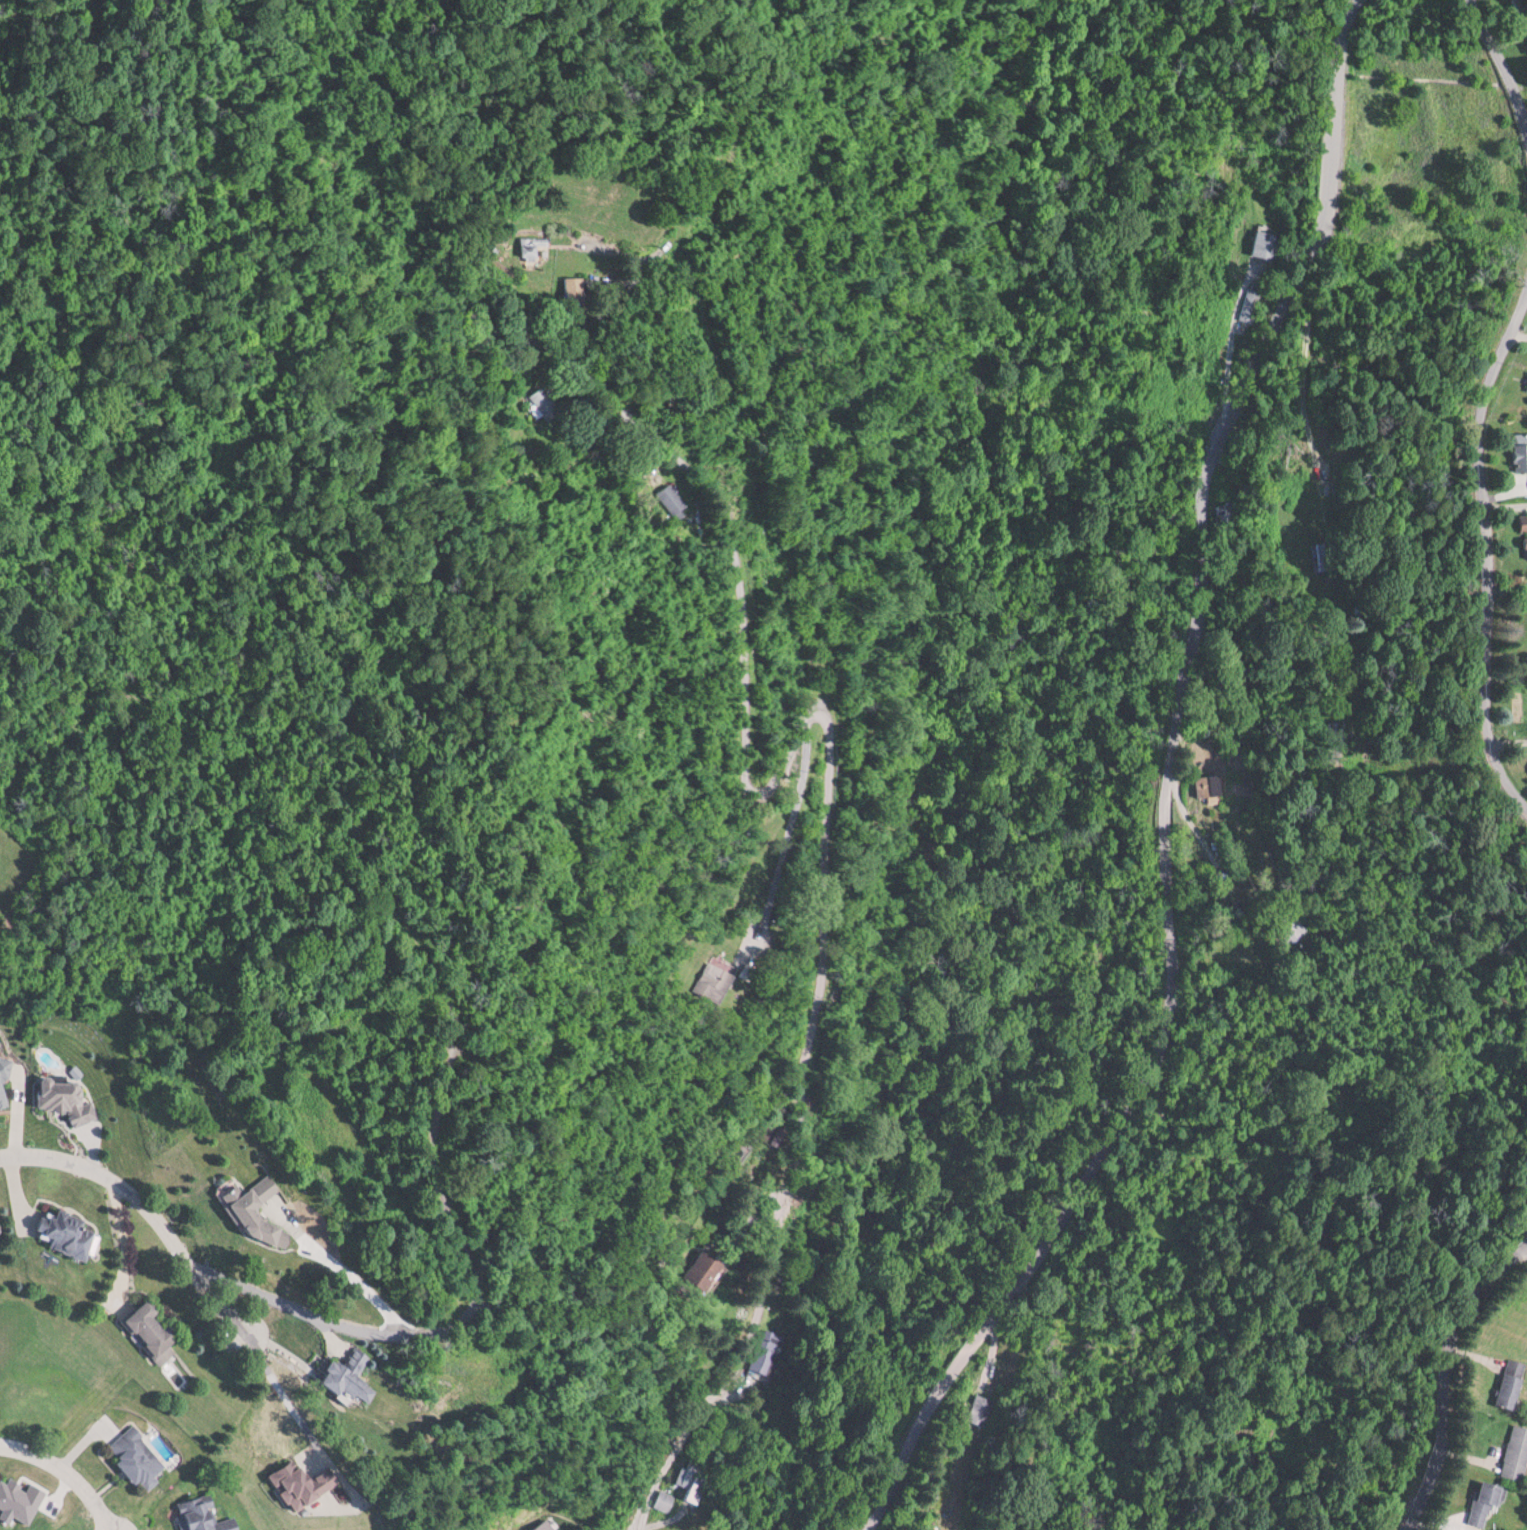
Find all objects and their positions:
building: (1525, 44)
road: (1500, 56)
building: (1264, 243)
building: (537, 246)
building: (575, 289)
building: (1245, 303)
building: (546, 403)
road: (1490, 543)
building: (1316, 556)
building: (1209, 786)
road: (1167, 792)
road: (829, 801)
building: (1196, 854)
park: (18, 866)
building: (715, 980)
building: (6, 1084)
building: (69, 1096)
road: (145, 1207)
building: (261, 1208)
building: (69, 1229)
building: (2, 1233)
building: (713, 1266)
building: (154, 1327)
building: (763, 1349)
road: (1442, 1370)
building: (355, 1374)
building: (1505, 1383)
building: (976, 1409)
building: (1512, 1451)
building: (140, 1454)
road: (66, 1473)
building: (690, 1480)
building: (306, 1483)
building: (661, 1500)
building: (1479, 1501)
building: (211, 1515)

